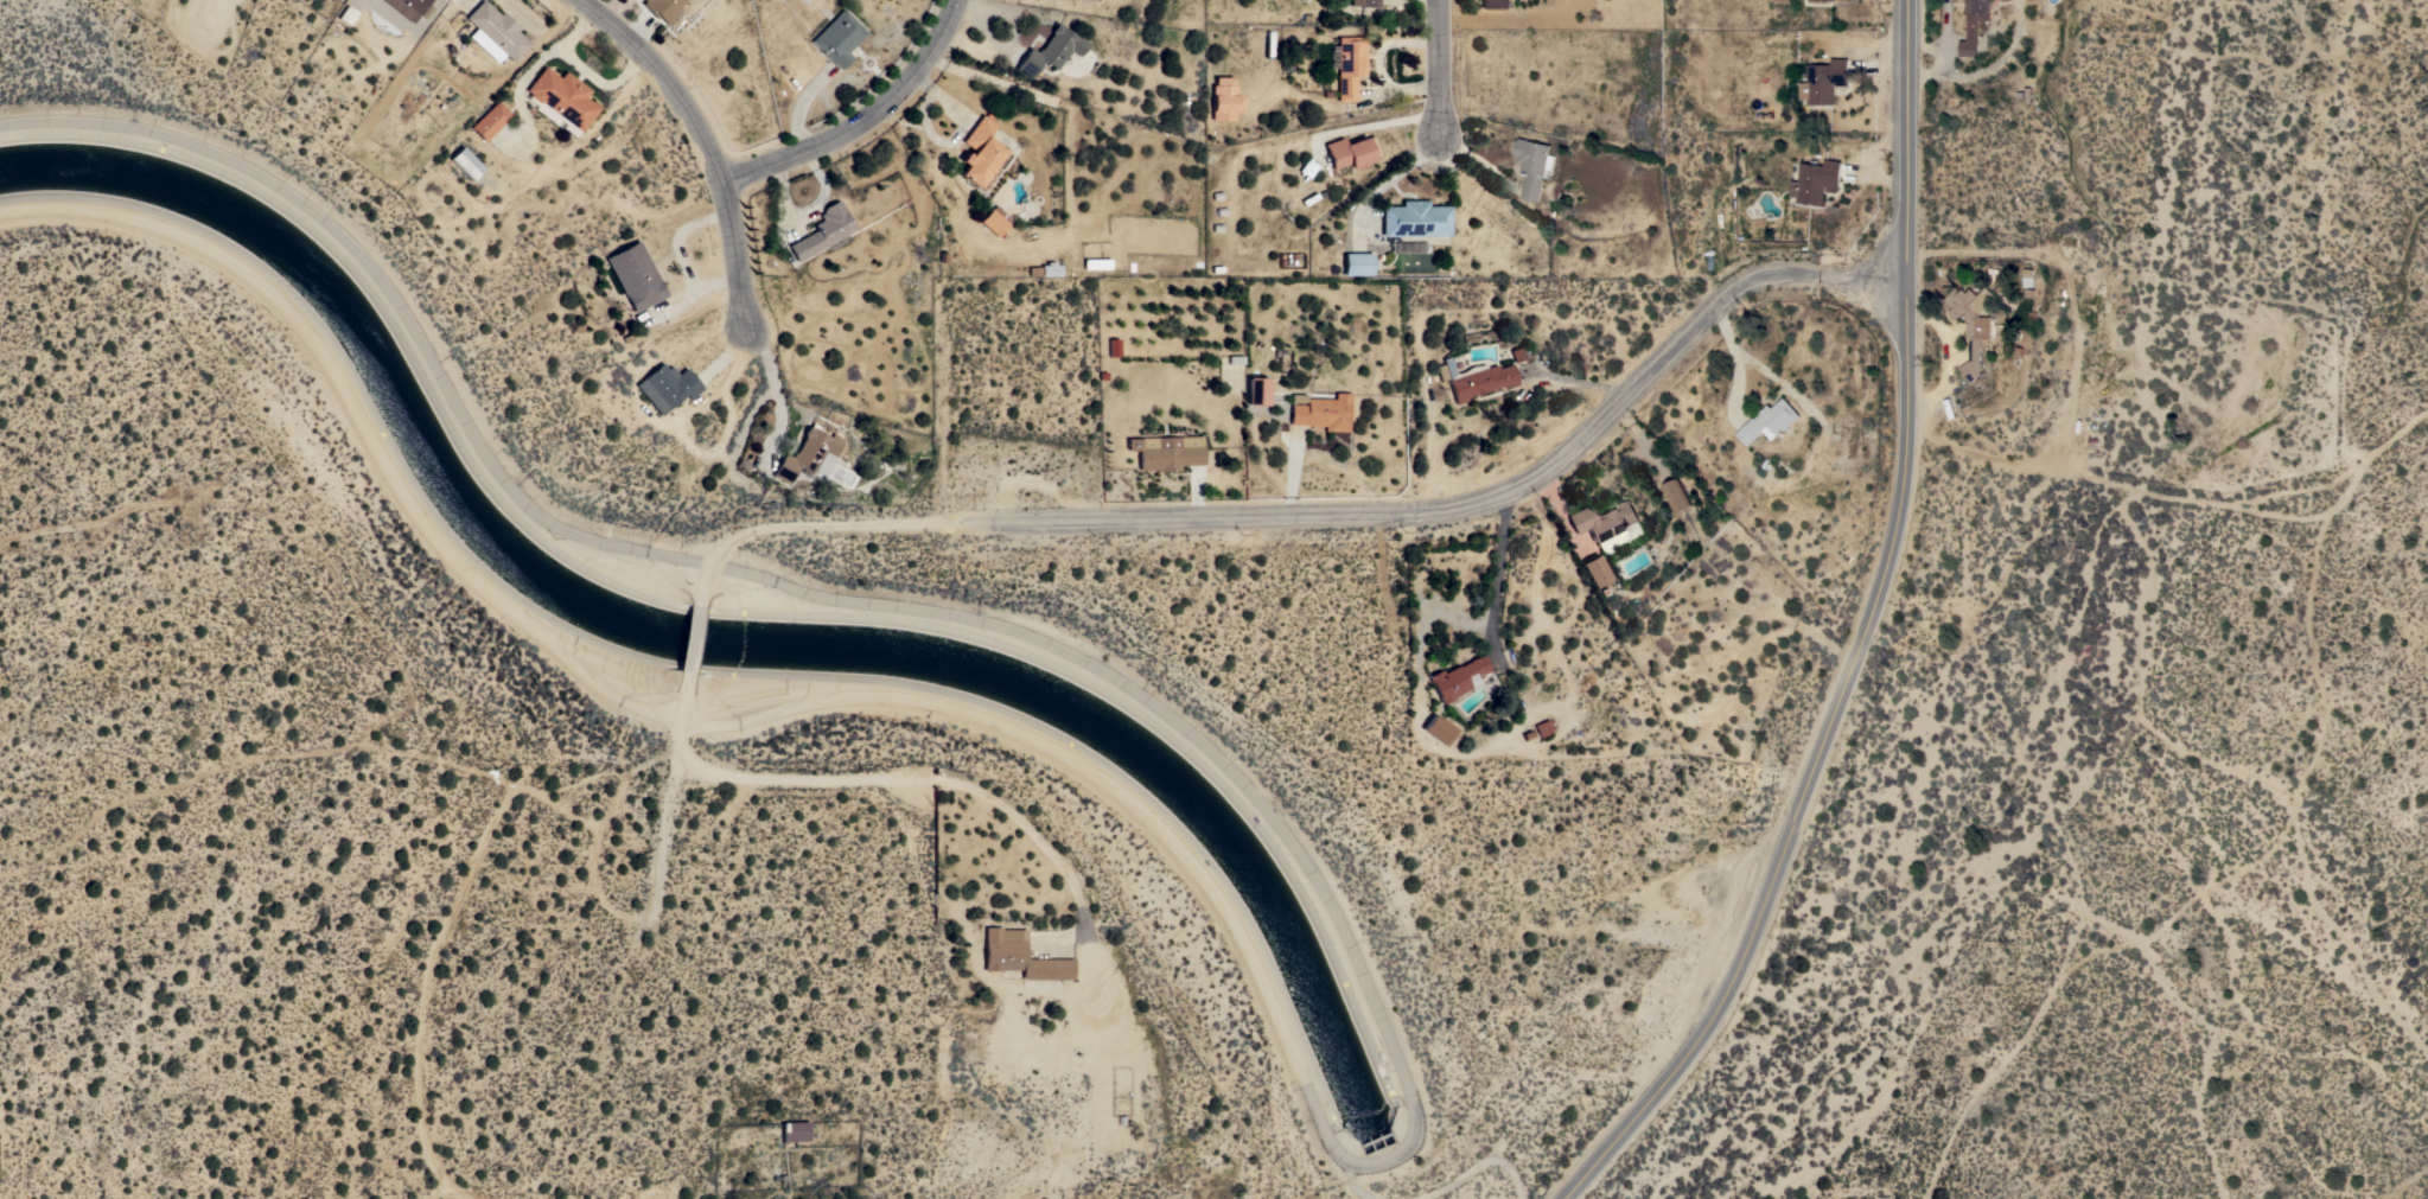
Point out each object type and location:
building: (1365, 2)
building: (1495, 4)
building: (407, 7)
building: (662, 8)
building: (1974, 25)
building: (496, 30)
building: (837, 38)
road: (1950, 38)
building: (1050, 50)
road: (1008, 51)
building: (1349, 65)
road: (1441, 66)
road: (1938, 69)
building: (1823, 82)
building: (1224, 98)
building: (561, 100)
road: (866, 119)
building: (490, 121)
road: (1382, 125)
road: (709, 142)
building: (1351, 151)
building: (981, 154)
building: (465, 162)
building: (1534, 166)
road: (1383, 180)
building: (1815, 180)
building: (1414, 219)
building: (994, 221)
building: (822, 231)
road: (677, 257)
building: (1095, 263)
building: (1357, 263)
building: (1050, 269)
building: (635, 276)
building: (2028, 278)
building: (2089, 295)
building: (2090, 317)
building: (1971, 323)
building: (1113, 347)
road: (1952, 359)
building: (1478, 378)
road: (1573, 381)
building: (665, 387)
building: (1258, 391)
road: (776, 393)
building: (1321, 413)
building: (1771, 420)
building: (1166, 452)
building: (808, 454)
road: (1490, 496)
building: (1677, 496)
road: (828, 524)
building: (1608, 524)
road: (1498, 569)
building: (1594, 570)
road: (1866, 638)
road: (689, 650)
building: (1457, 677)
building: (1542, 727)
building: (1438, 729)
road: (917, 779)
road: (518, 793)
building: (1019, 956)
building: (794, 1131)
road: (438, 1190)
road: (469, 1193)

